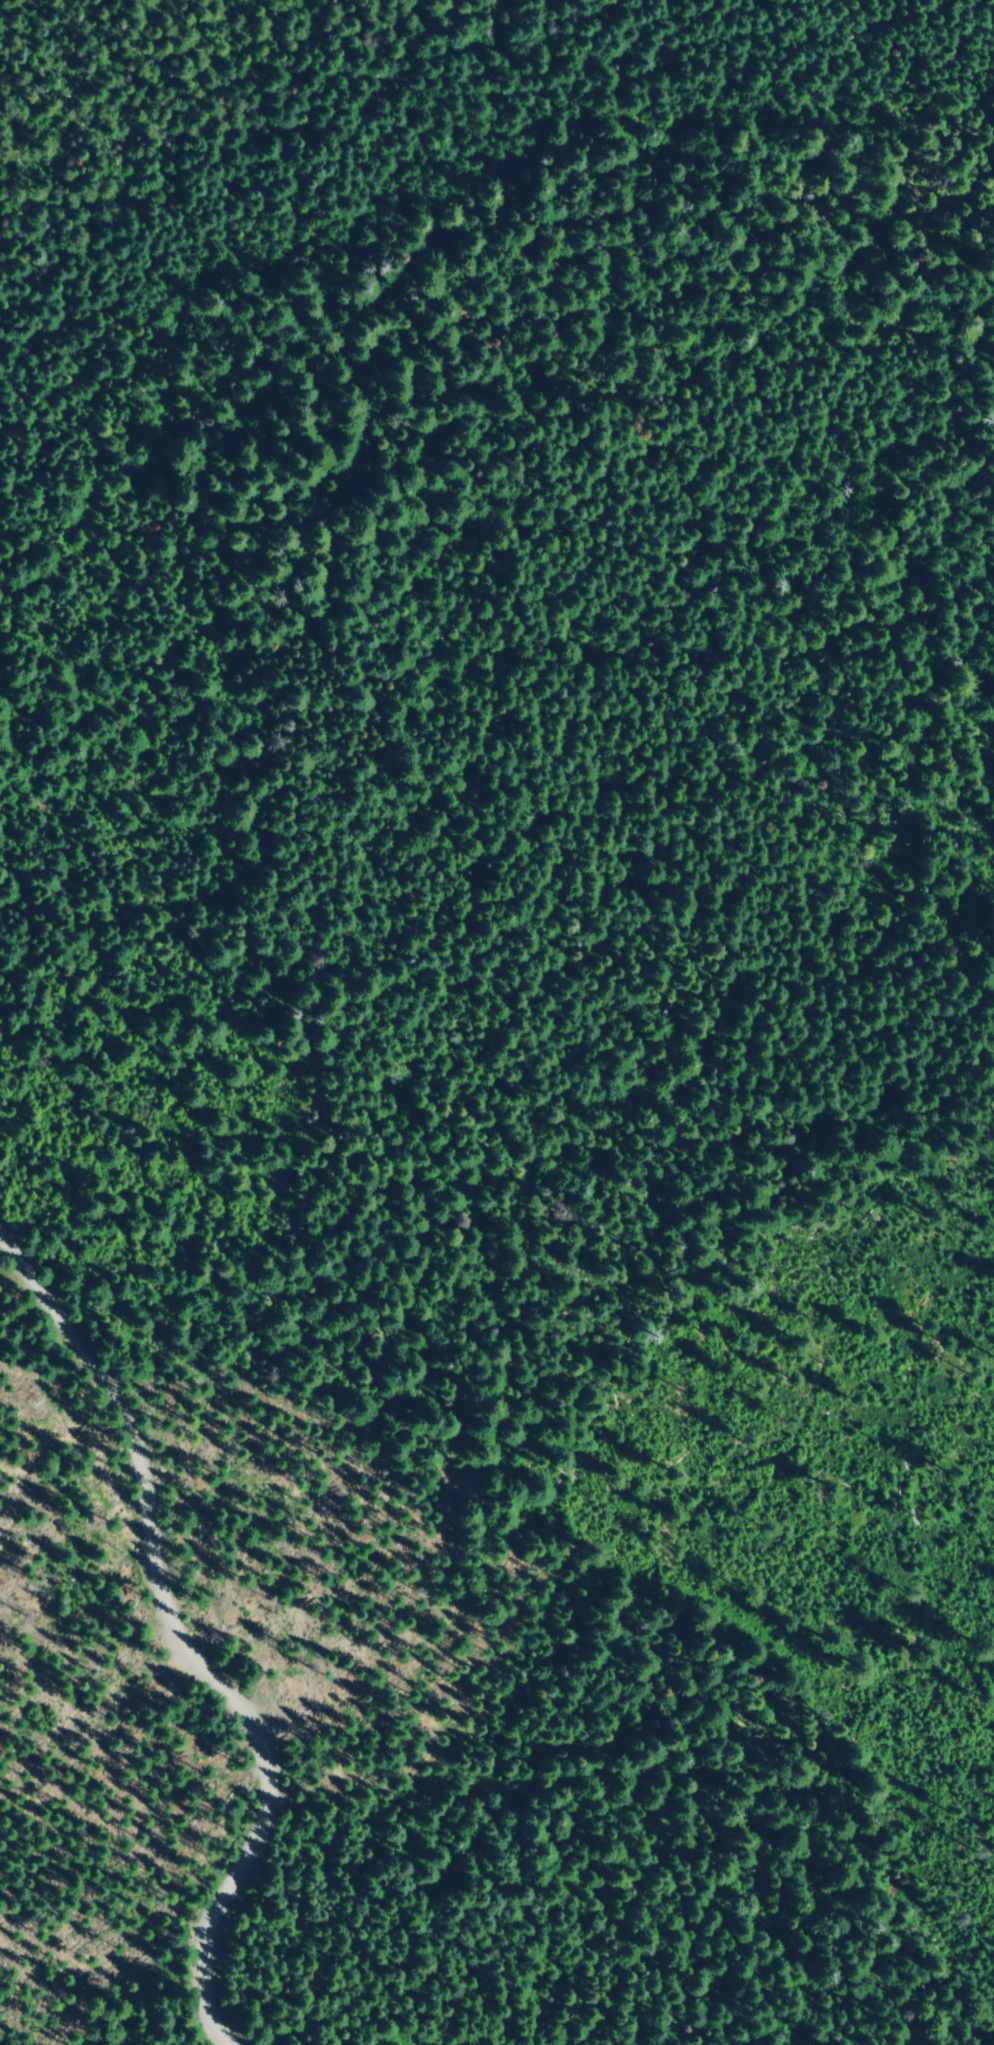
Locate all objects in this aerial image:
road: (198, 1680)

